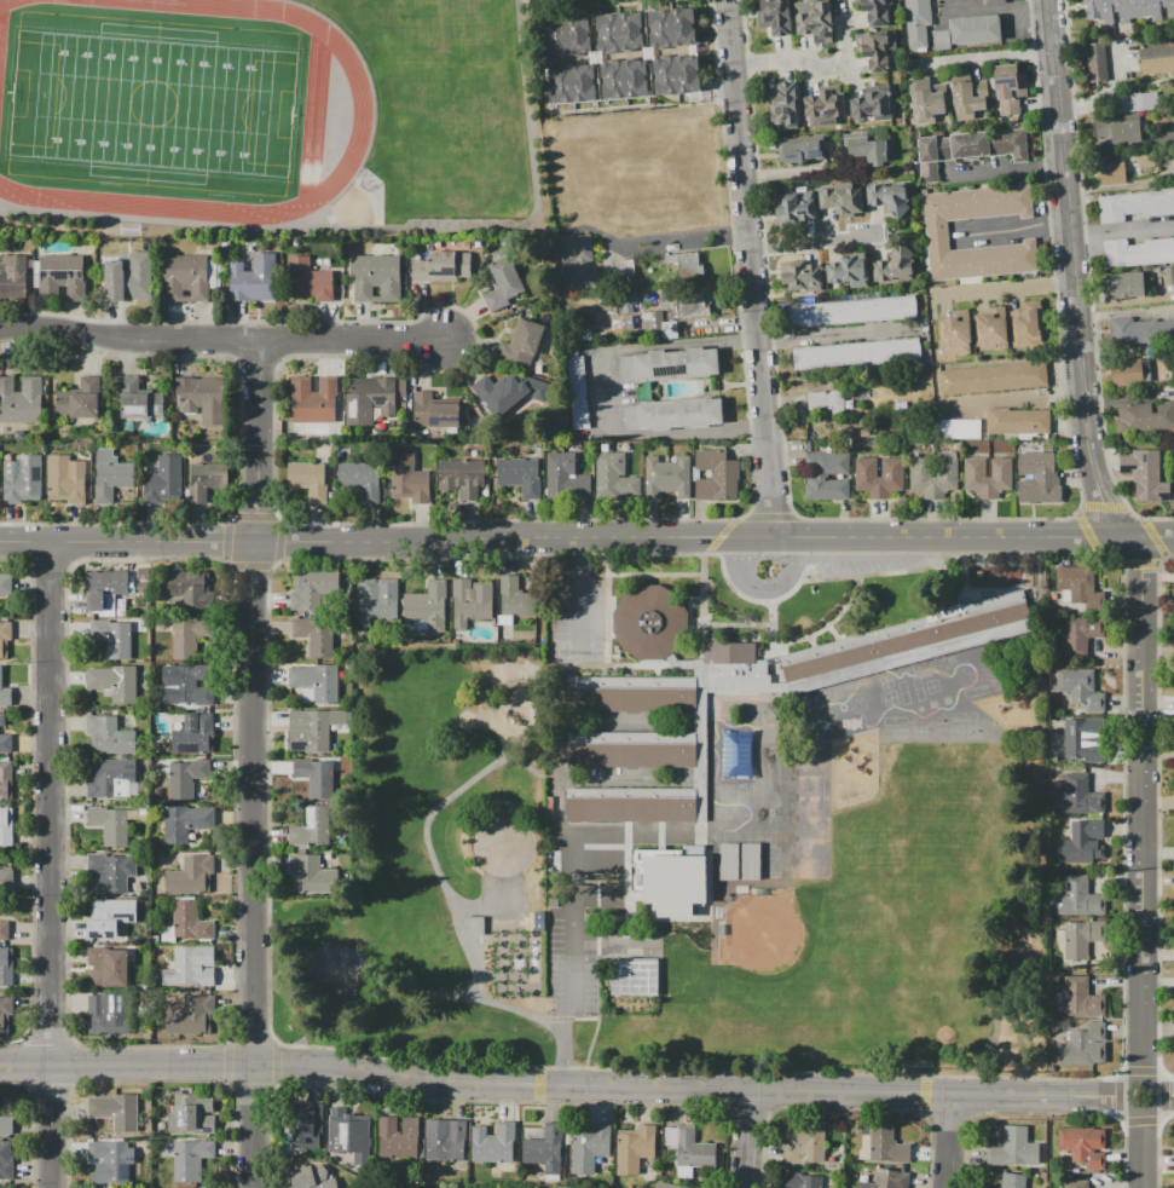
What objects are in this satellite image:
building: (994, 1)
building: (1127, 10)
building: (875, 12)
building: (775, 16)
building: (814, 19)
building: (916, 22)
building: (671, 27)
building: (976, 28)
building: (619, 31)
building: (566, 34)
building: (941, 40)
building: (875, 47)
road: (984, 58)
building: (1108, 59)
building: (1157, 59)
road: (810, 64)
building: (677, 75)
building: (624, 79)
building: (572, 82)
building: (1012, 94)
building: (968, 98)
building: (925, 102)
park: (152, 103)
building: (1133, 103)
building: (782, 104)
building: (873, 104)
building: (825, 108)
track: (363, 113)
building: (1120, 128)
building: (1163, 138)
building: (973, 144)
building: (868, 145)
building: (803, 151)
road: (1008, 171)
building: (1111, 172)
building: (889, 200)
building: (840, 203)
building: (1133, 204)
building: (797, 208)
road: (1013, 231)
road: (1122, 231)
building: (937, 232)
road: (684, 238)
road: (810, 242)
building: (1138, 252)
building: (576, 260)
building: (893, 263)
building: (683, 266)
building: (441, 267)
road: (750, 267)
building: (849, 270)
building: (802, 275)
building: (60, 276)
building: (12, 277)
building: (184, 277)
building: (377, 277)
building: (128, 278)
building: (253, 279)
building: (307, 281)
road: (1088, 282)
building: (502, 283)
building: (1124, 284)
building: (693, 304)
building: (852, 311)
building: (652, 322)
building: (1026, 327)
building: (669, 329)
building: (990, 329)
building: (1143, 329)
road: (828, 331)
building: (955, 334)
road: (224, 339)
building: (521, 344)
building: (855, 354)
building: (670, 364)
building: (1130, 371)
building: (993, 379)
building: (577, 391)
building: (499, 392)
road: (603, 393)
building: (201, 398)
building: (21, 399)
building: (138, 399)
building: (371, 399)
building: (80, 400)
building: (825, 402)
building: (313, 405)
building: (433, 413)
building: (673, 414)
building: (1146, 420)
building: (1018, 421)
building: (958, 429)
building: (864, 433)
road: (241, 437)
building: (1173, 462)
building: (1141, 469)
building: (111, 475)
building: (520, 475)
building: (565, 475)
building: (666, 475)
building: (716, 475)
building: (407, 477)
building: (462, 477)
building: (613, 477)
building: (814, 477)
building: (933, 477)
building: (64, 478)
building: (1037, 478)
building: (22, 479)
building: (308, 479)
building: (164, 480)
building: (206, 480)
building: (362, 480)
building: (988, 481)
building: (879, 484)
road: (1101, 506)
road: (255, 515)
road: (770, 515)
road: (933, 519)
road: (330, 523)
road: (1087, 534)
road: (719, 535)
road: (783, 535)
road: (984, 536)
road: (1128, 537)
road: (1155, 537)
road: (386, 538)
road: (278, 540)
road: (225, 541)
road: (713, 554)
road: (802, 559)
parking lot: (880, 563)
road: (1140, 563)
road: (250, 565)
road: (653, 572)
road: (809, 572)
building: (1077, 583)
building: (6, 584)
road: (764, 587)
building: (187, 588)
building: (306, 592)
building: (103, 593)
road: (768, 594)
road: (579, 596)
building: (516, 598)
building: (377, 600)
building: (469, 604)
road: (700, 605)
building: (427, 607)
road: (606, 607)
parking lot: (583, 611)
flagpole: (707, 615)
building: (648, 622)
road: (735, 623)
road: (827, 623)
road: (771, 629)
building: (1080, 634)
building: (116, 636)
building: (314, 636)
building: (185, 640)
building: (5, 641)
building: (906, 647)
building: (729, 652)
building: (316, 681)
building: (115, 684)
building: (190, 687)
building: (1078, 688)
building: (5, 698)
building: (630, 699)
building: (2, 720)
park: (937, 720)
building: (310, 732)
building: (192, 734)
building: (108, 736)
building: (1078, 736)
building: (5, 743)
building: (735, 752)
building: (631, 754)
building: (810, 762)
road: (254, 763)
building: (317, 775)
building: (187, 777)
park: (769, 780)
building: (6, 782)
building: (111, 782)
building: (811, 783)
building: (1077, 796)
road: (233, 800)
road: (266, 802)
building: (811, 805)
building: (631, 809)
road: (1156, 812)
road: (1123, 818)
building: (184, 823)
building: (111, 824)
building: (810, 825)
building: (6, 826)
building: (312, 826)
road: (573, 834)
road: (427, 840)
park: (769, 840)
building: (1081, 844)
building: (810, 847)
building: (728, 860)
building: (750, 860)
building: (770, 860)
park: (435, 865)
road: (50, 866)
building: (810, 867)
building: (109, 873)
building: (311, 873)
building: (191, 877)
building: (667, 877)
building: (5, 880)
building: (1077, 899)
road: (601, 916)
building: (109, 917)
building: (537, 921)
building: (190, 923)
building: (474, 925)
building: (4, 932)
building: (1081, 938)
park: (773, 942)
road: (574, 945)
park: (515, 962)
building: (6, 964)
building: (108, 968)
building: (192, 968)
building: (634, 976)
road: (417, 993)
building: (1080, 999)
park: (924, 1014)
building: (5, 1017)
building: (191, 1017)
road: (585, 1017)
building: (105, 1019)
road: (560, 1019)
road: (251, 1039)
road: (590, 1042)
building: (1083, 1046)
road: (562, 1053)
road: (227, 1062)
road: (274, 1062)
road: (696, 1068)
road: (1140, 1071)
road: (537, 1083)
road: (250, 1086)
road: (565, 1086)
road: (923, 1092)
road: (1163, 1094)
road: (1117, 1095)
road: (1163, 1096)
road: (496, 1098)
road: (1150, 1103)
road: (750, 1107)
road: (850, 1107)
building: (114, 1109)
road: (1049, 1112)
road: (950, 1113)
building: (193, 1114)
road: (1140, 1119)
building: (5, 1125)
building: (307, 1130)
building: (347, 1131)
building: (398, 1137)
building: (444, 1138)
road: (750, 1140)
building: (804, 1141)
road: (952, 1141)
building: (493, 1143)
building: (884, 1143)
building: (1083, 1144)
building: (590, 1147)
building: (690, 1147)
road: (1144, 1147)
building: (546, 1148)
building: (635, 1148)
building: (1013, 1150)
building: (185, 1159)
building: (5, 1160)
building: (110, 1160)
building: (312, 1177)
building: (800, 1180)
building: (887, 1180)
building: (1013, 1181)
building: (1076, 1184)
building: (666, 1186)

